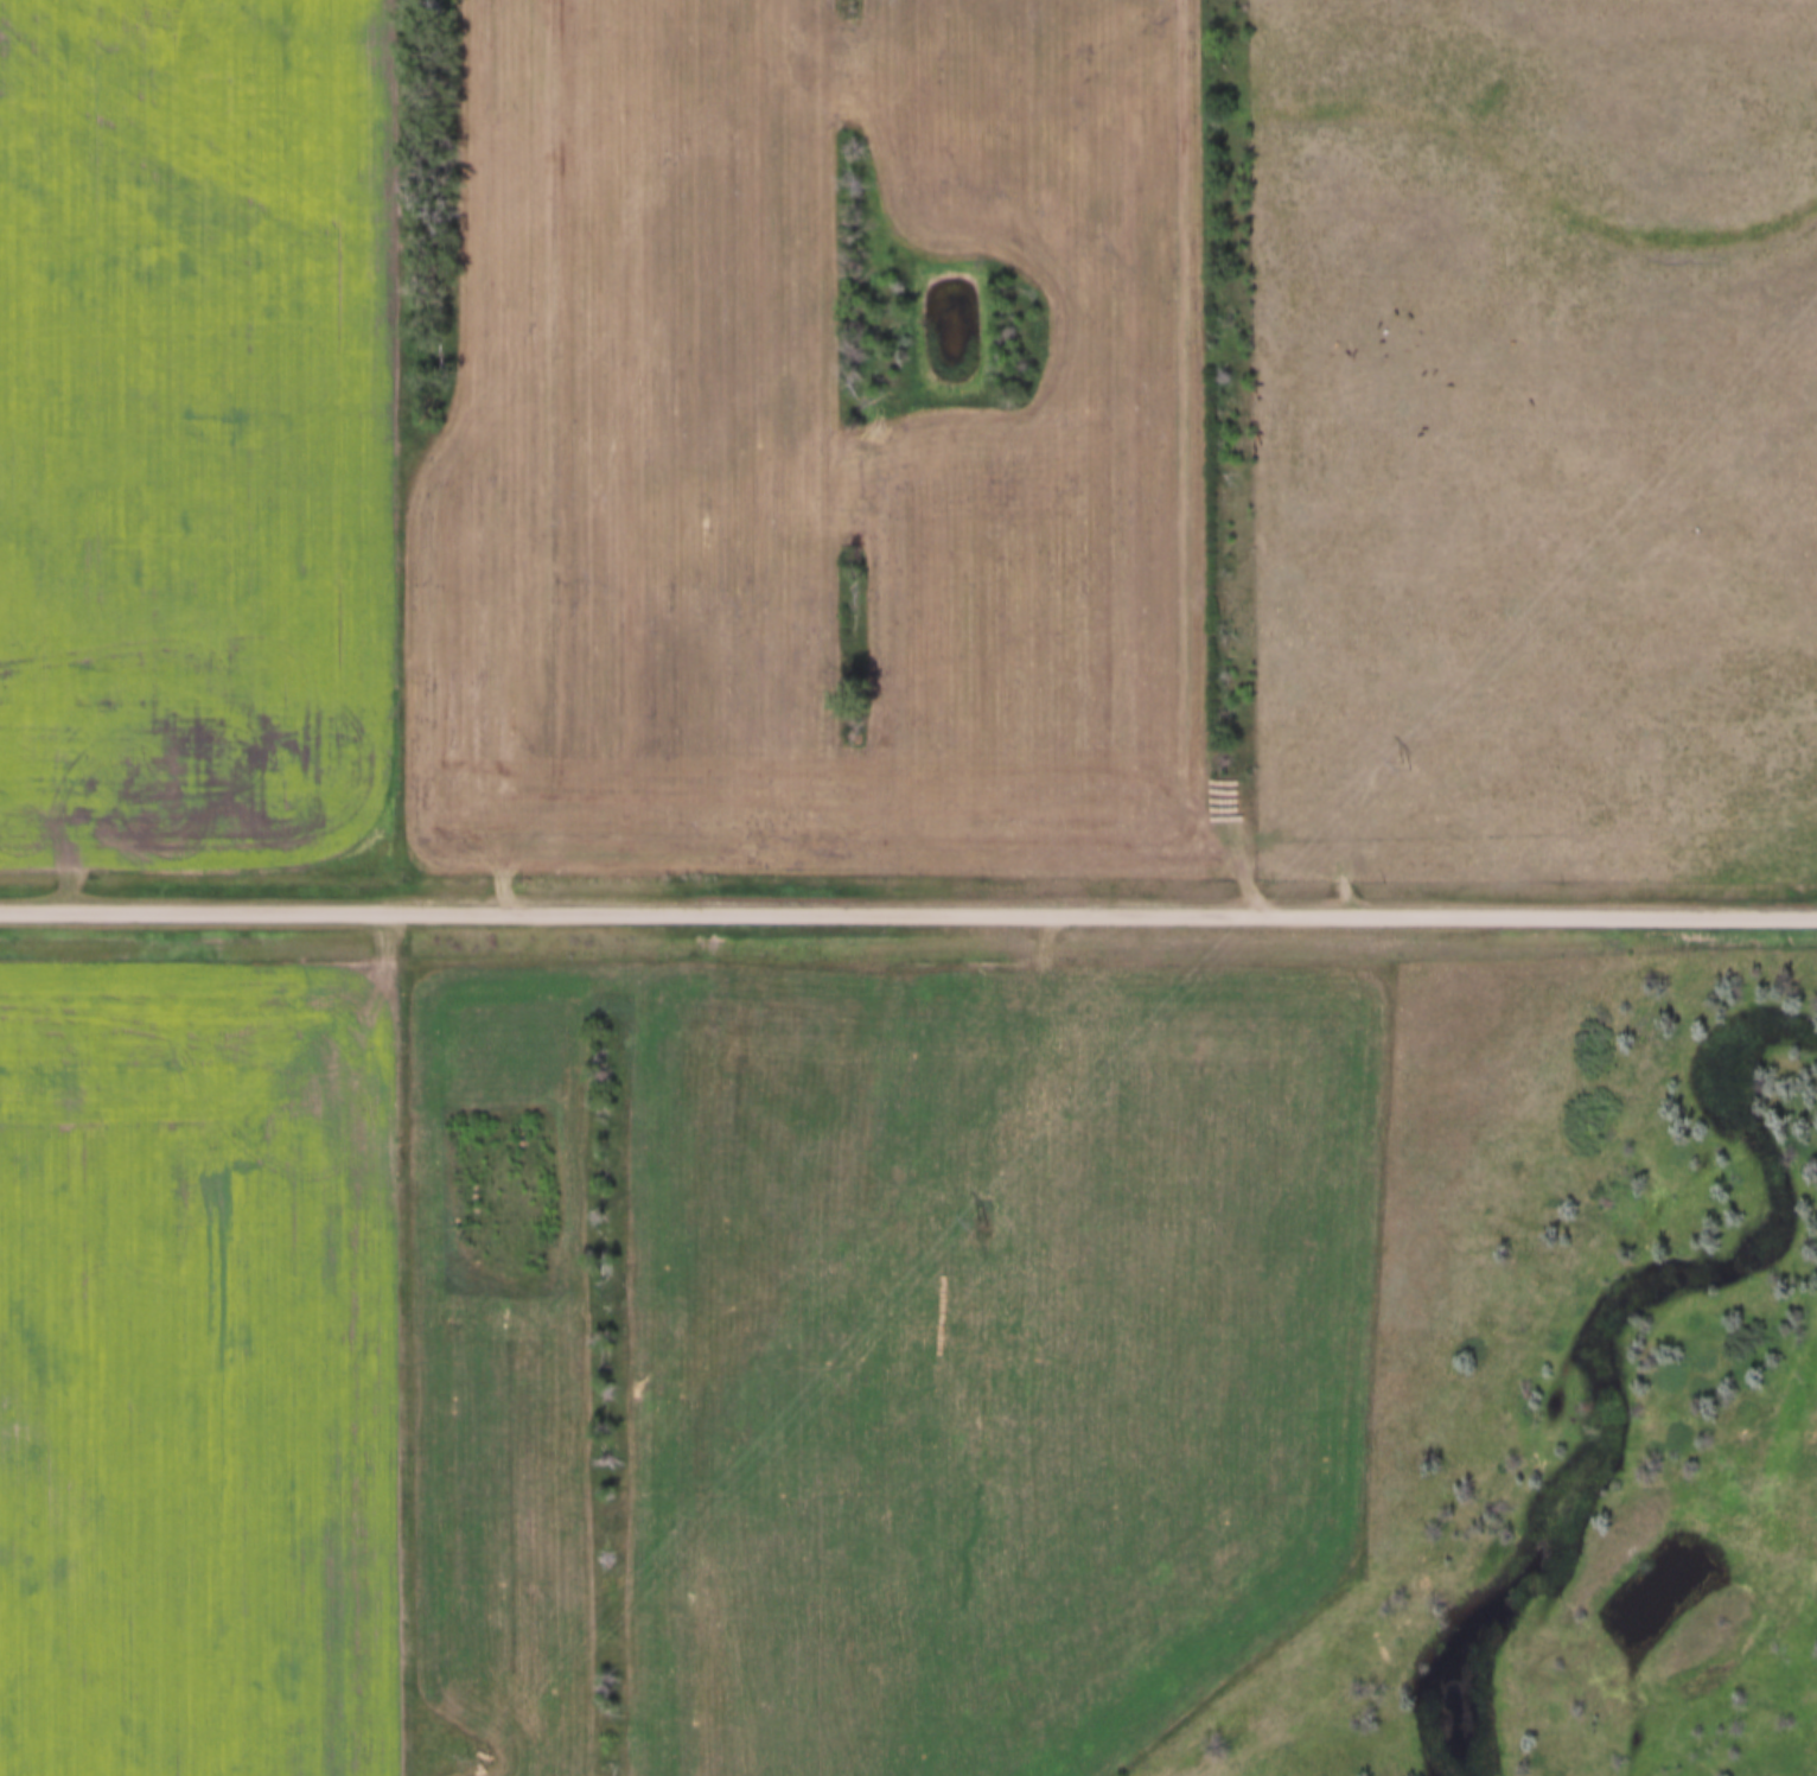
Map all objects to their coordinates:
power tower: (1403, 765)
road: (907, 912)
power tower: (980, 1223)
power tower: (477, 1758)

